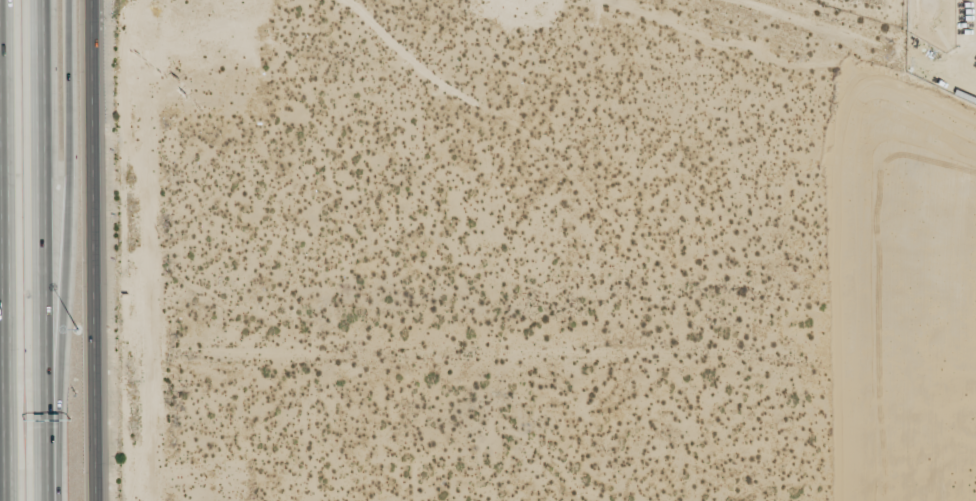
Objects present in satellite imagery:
road: (5, 250)
road: (42, 250)
road: (64, 250)
road: (94, 250)

